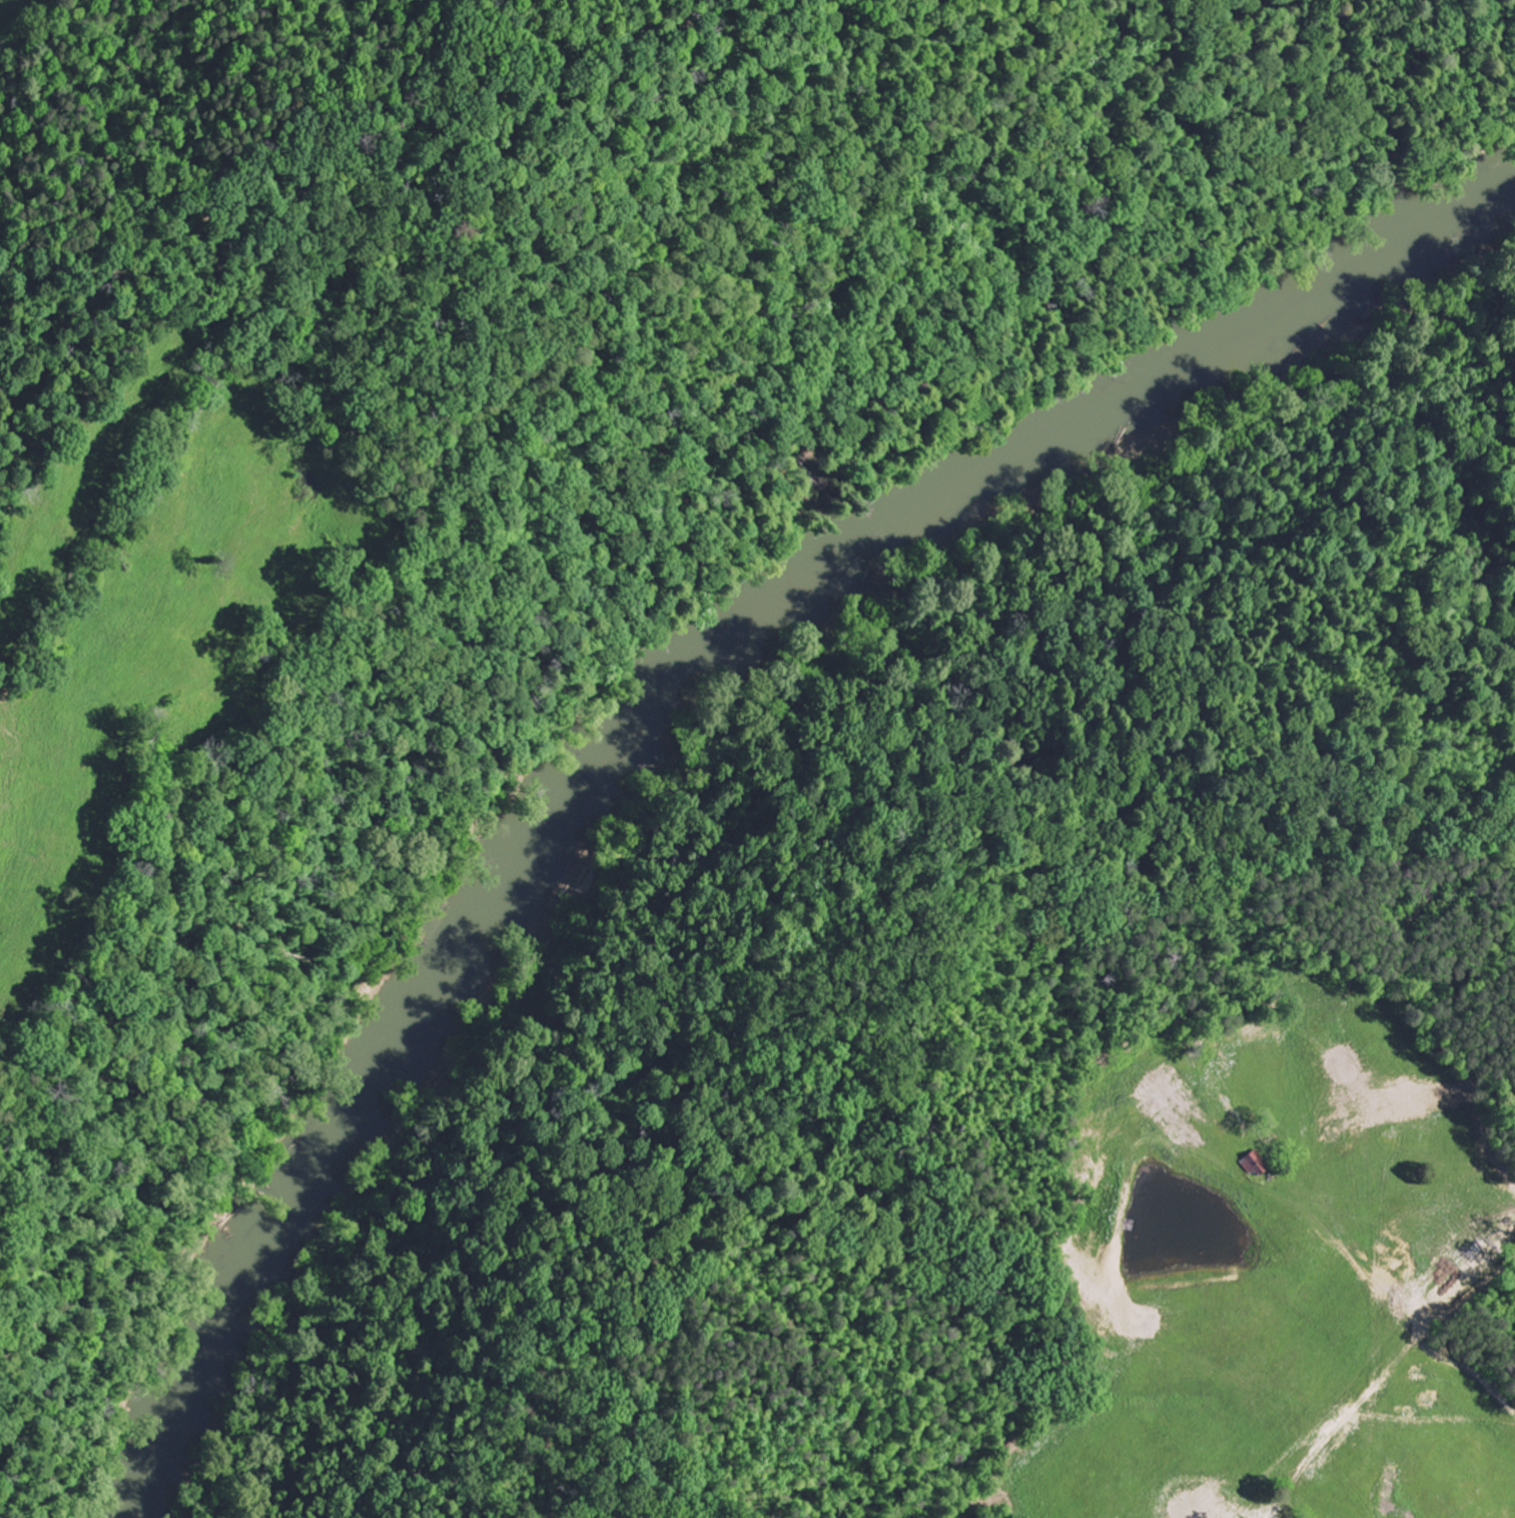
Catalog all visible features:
river: (657, 681)
building: (1260, 1165)

